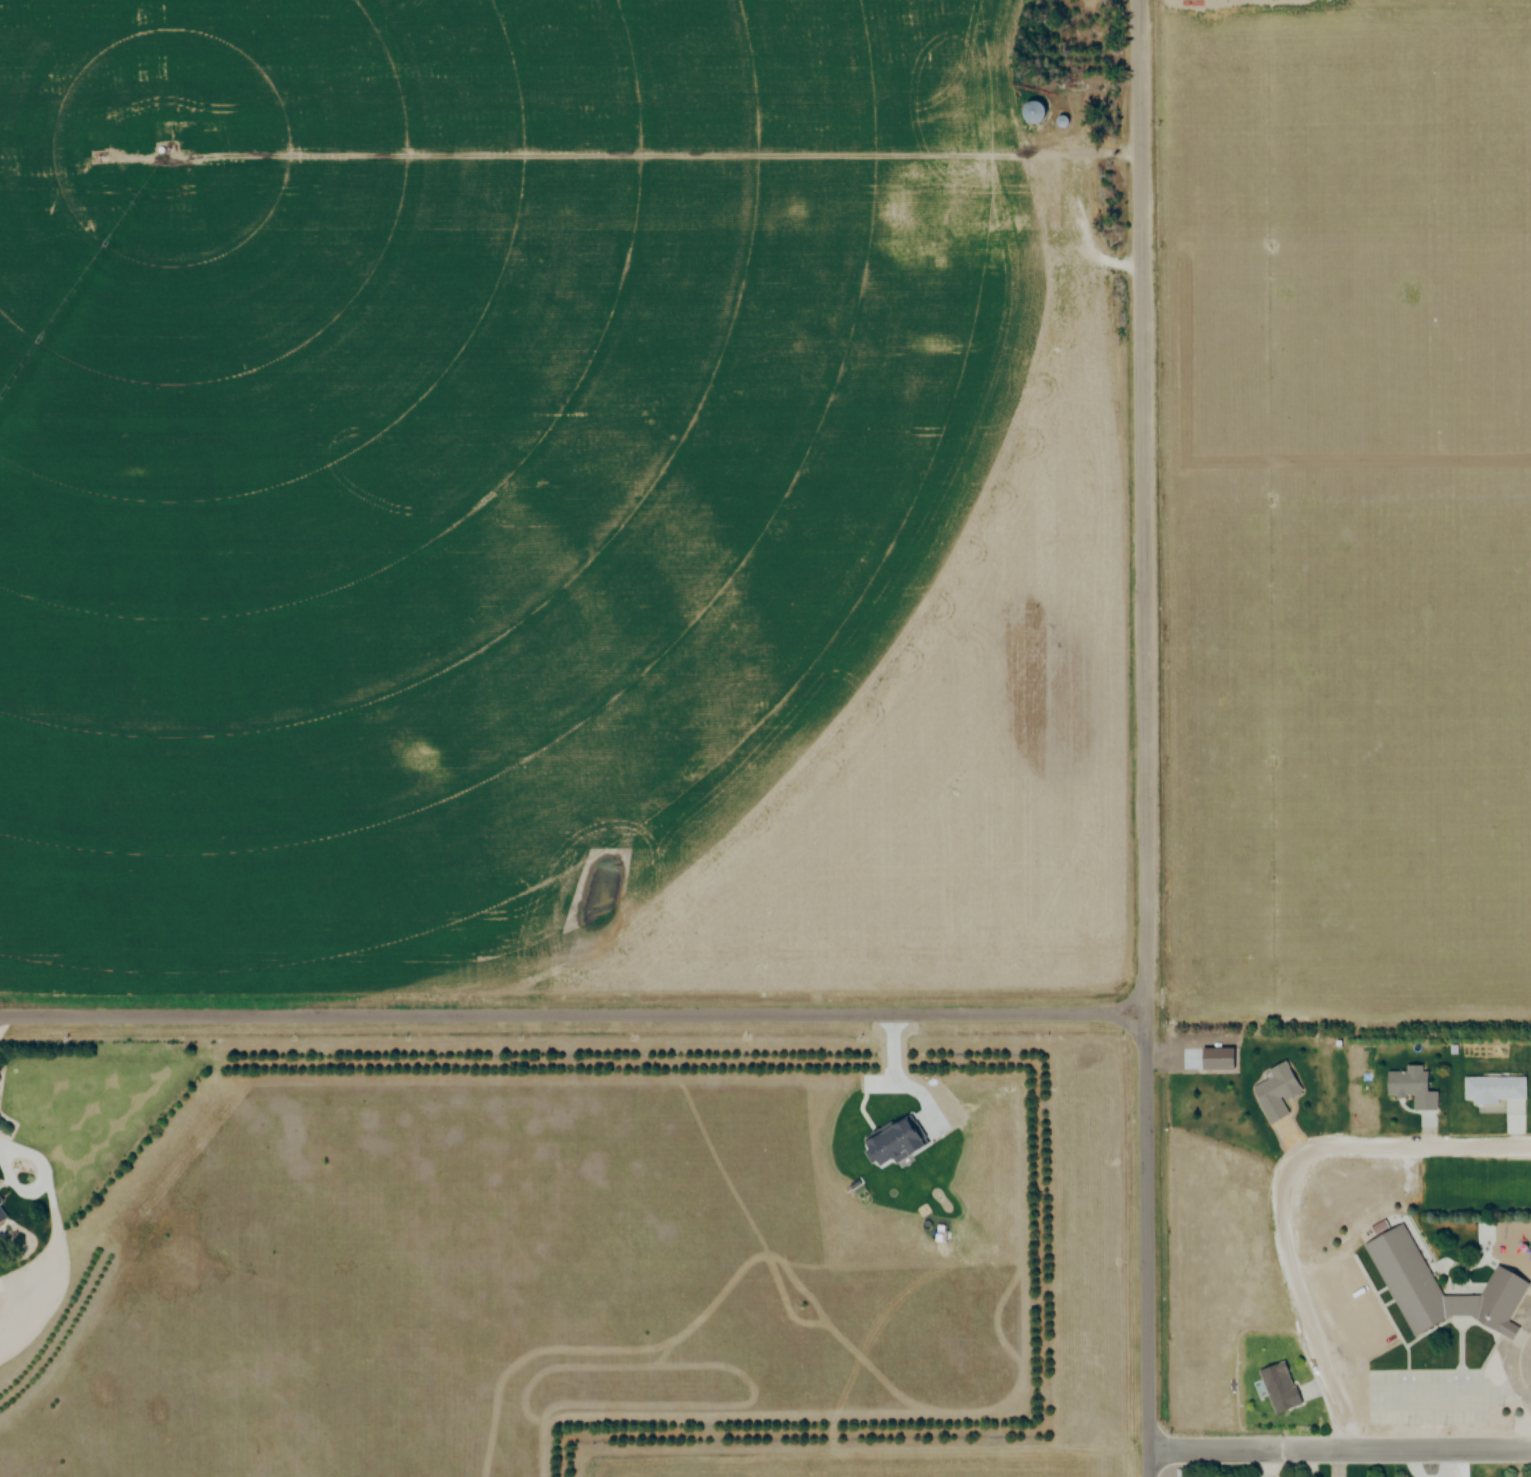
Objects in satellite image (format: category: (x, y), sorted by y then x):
building: (1032, 112)
building: (1061, 122)
road: (1145, 505)
road: (573, 1014)
building: (1410, 1088)
road: (1287, 1192)
building: (2, 1216)
road: (1150, 1244)
building: (1404, 1275)
building: (1279, 1387)
road: (1342, 1450)

